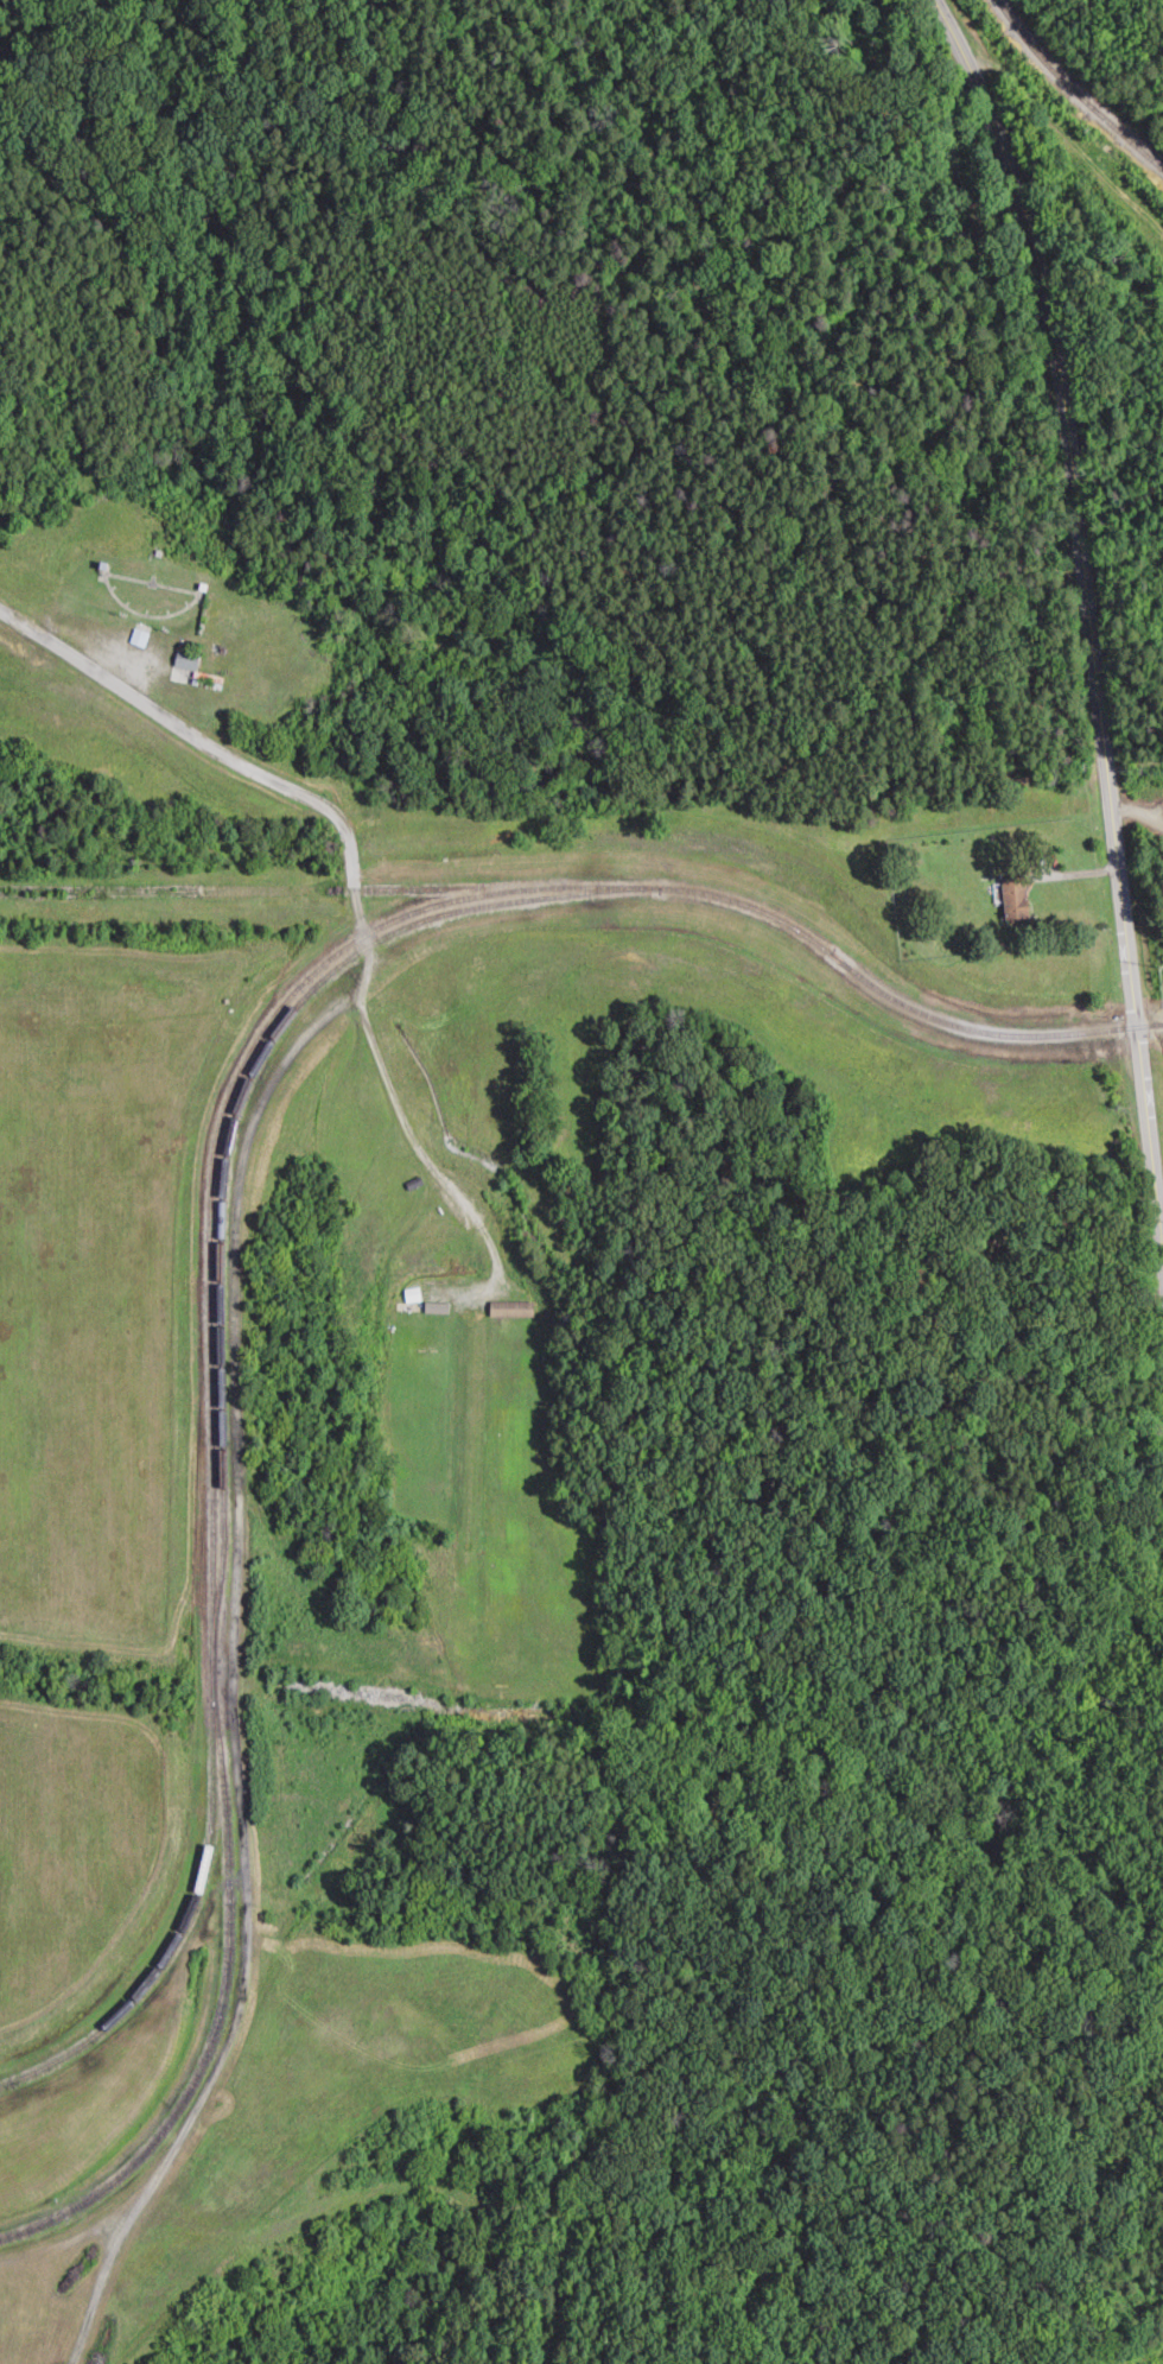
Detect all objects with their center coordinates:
railway: (1079, 88)
road: (1091, 607)
road: (417, 1141)
railway: (222, 1197)
road: (240, 1387)
railway: (183, 1932)
road: (363, 2188)

